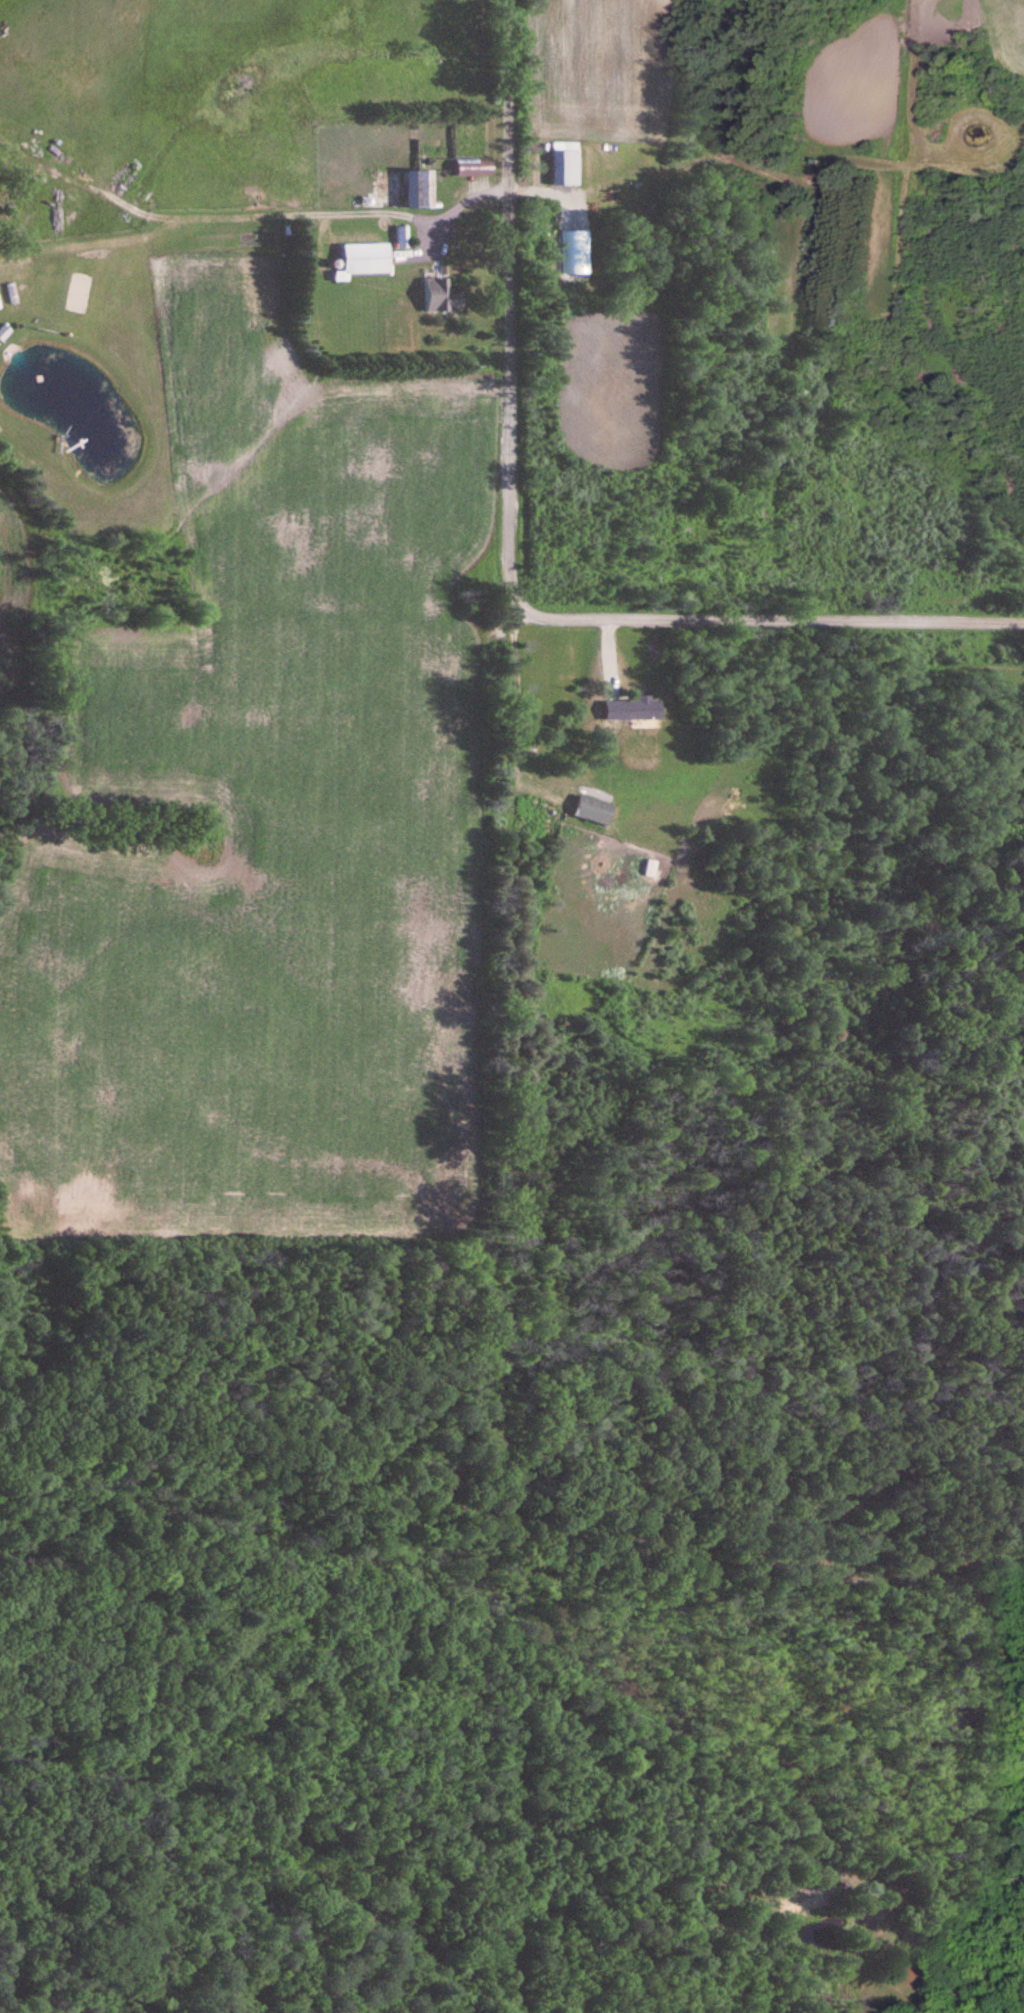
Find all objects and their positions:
building: (475, 167)
building: (566, 167)
building: (419, 189)
road: (453, 205)
building: (364, 260)
building: (438, 295)
road: (503, 314)
building: (4, 332)
road: (778, 622)
building: (633, 708)
building: (593, 810)

